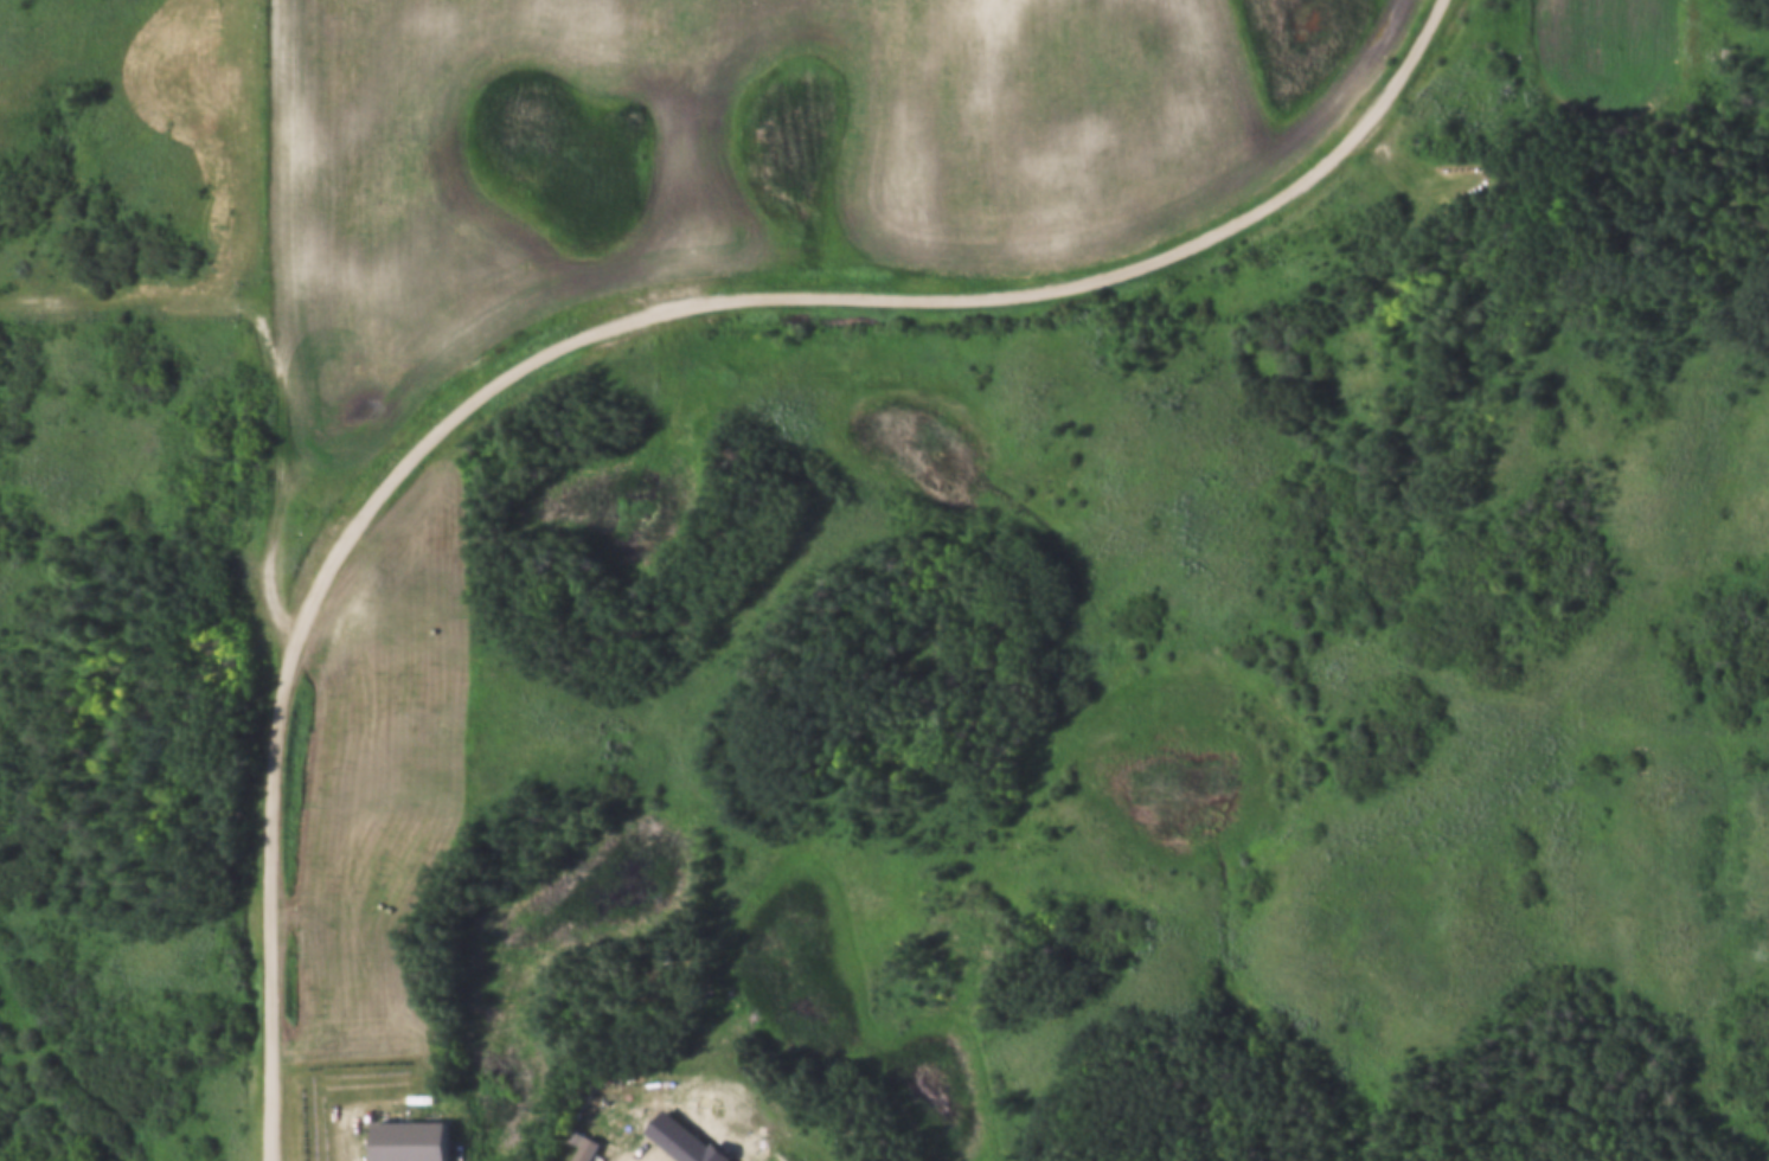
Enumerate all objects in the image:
road: (857, 288)
road: (273, 344)
road: (271, 892)
building: (583, 1147)

